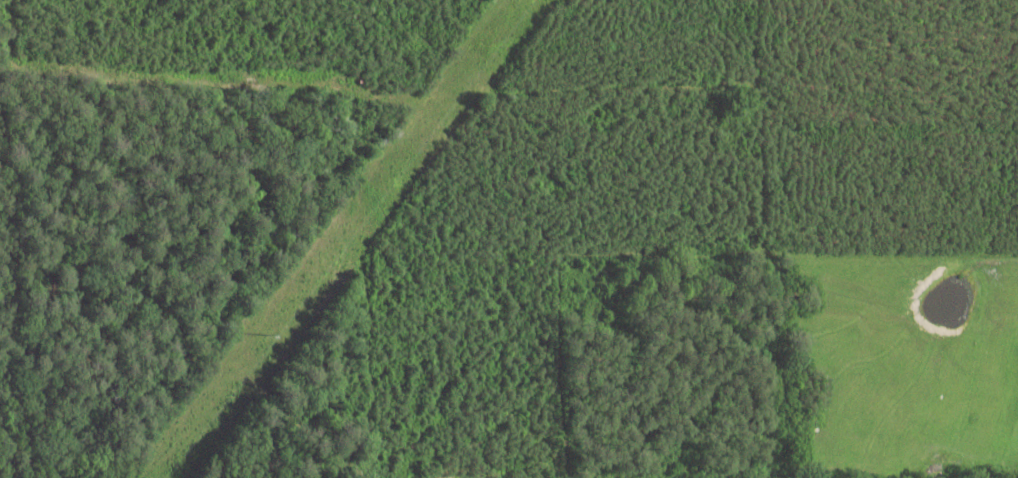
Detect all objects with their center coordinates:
road: (777, 290)

